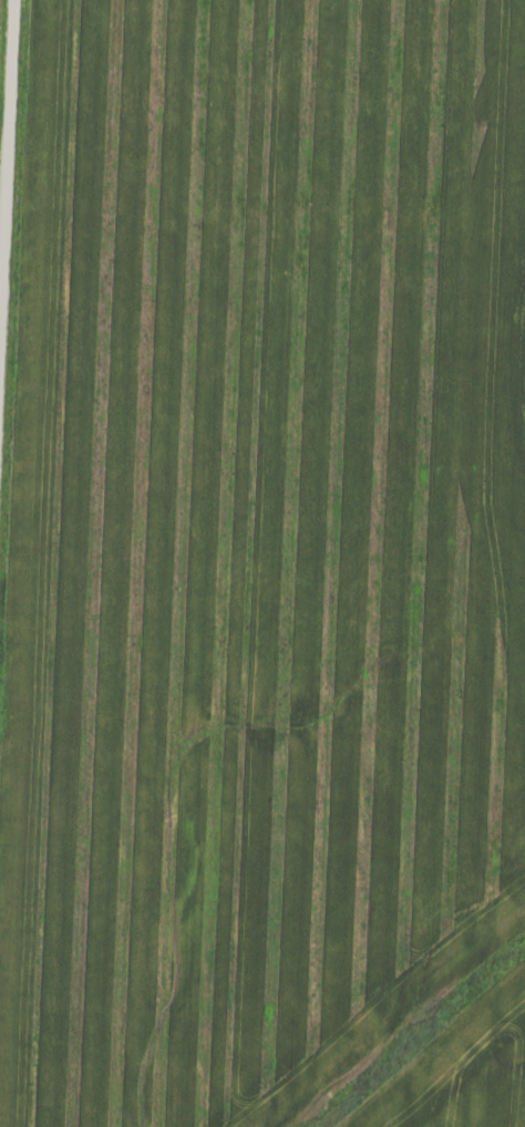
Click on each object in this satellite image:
road: (6, 144)

